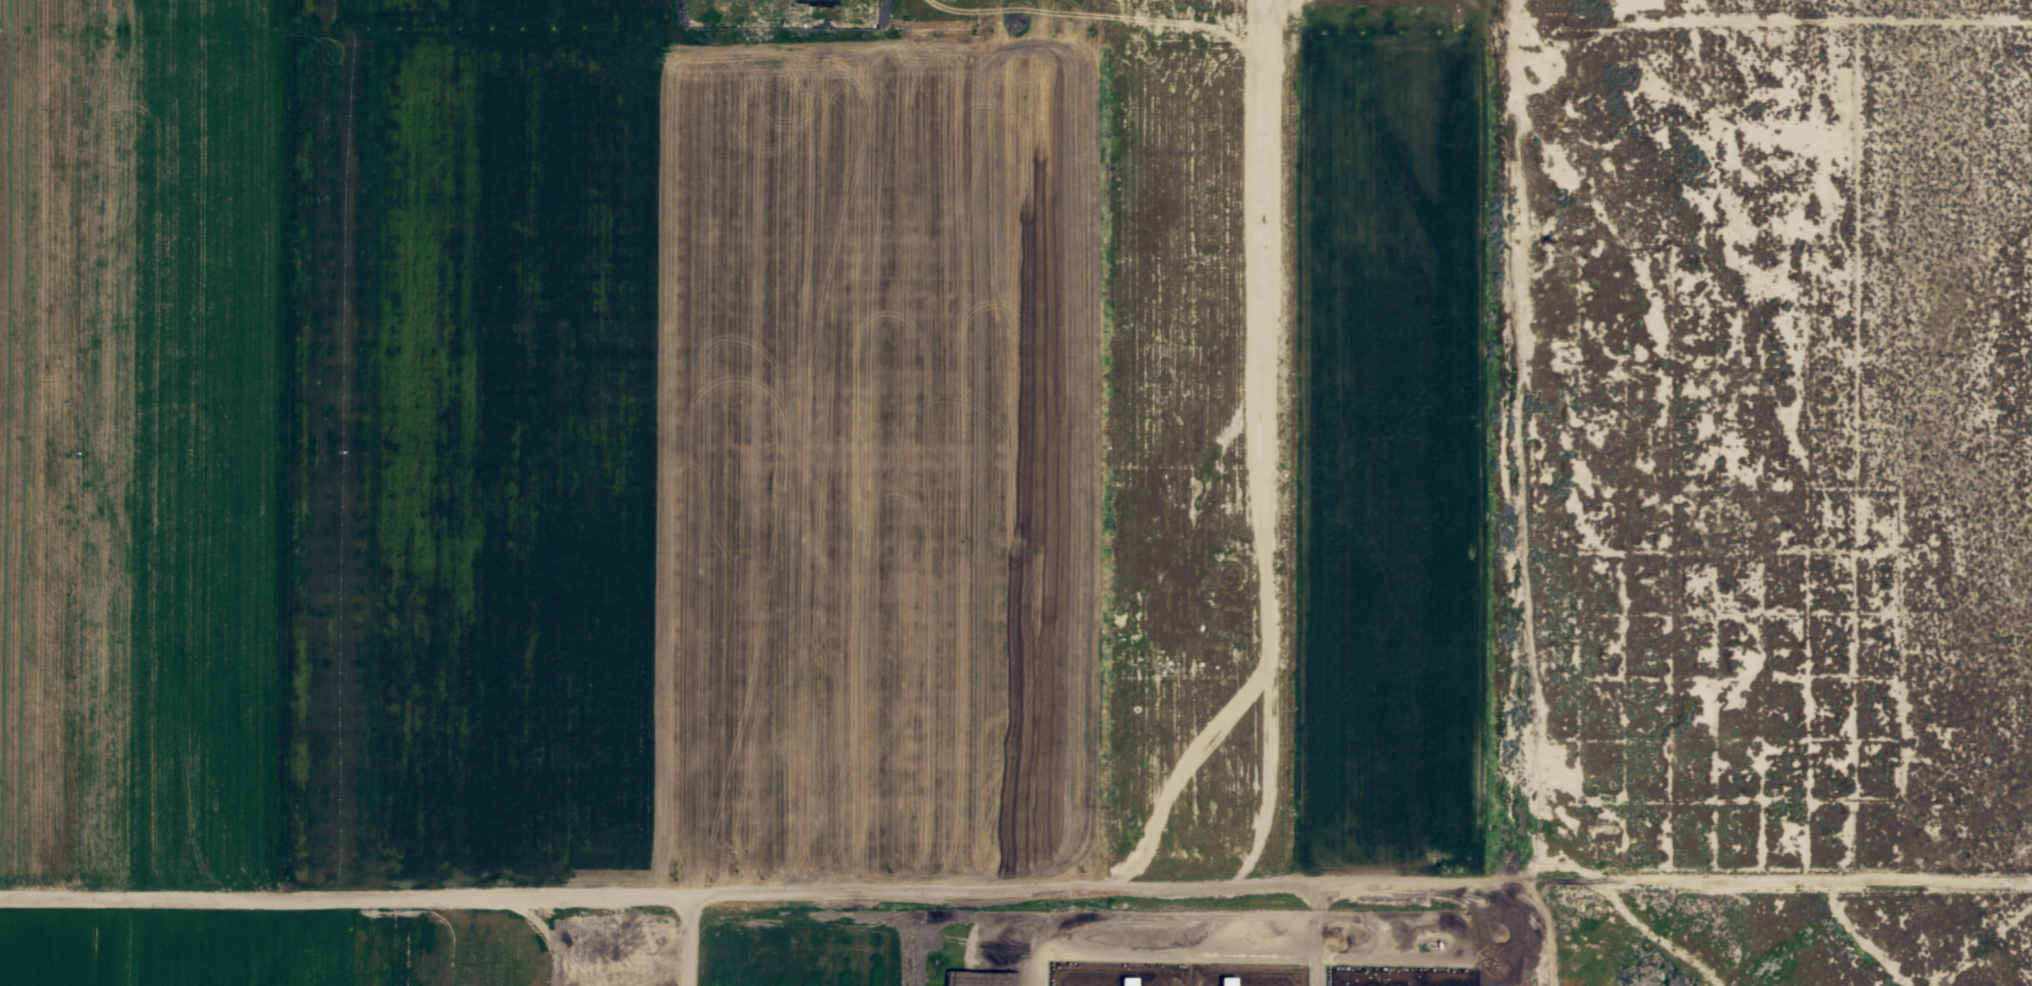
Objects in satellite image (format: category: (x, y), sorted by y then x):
crop: (539, 451)
crop: (1385, 466)
road: (1676, 888)
road: (659, 891)
road: (1163, 919)
crop: (269, 950)
road: (1315, 951)
building: (1126, 981)
building: (1226, 981)

